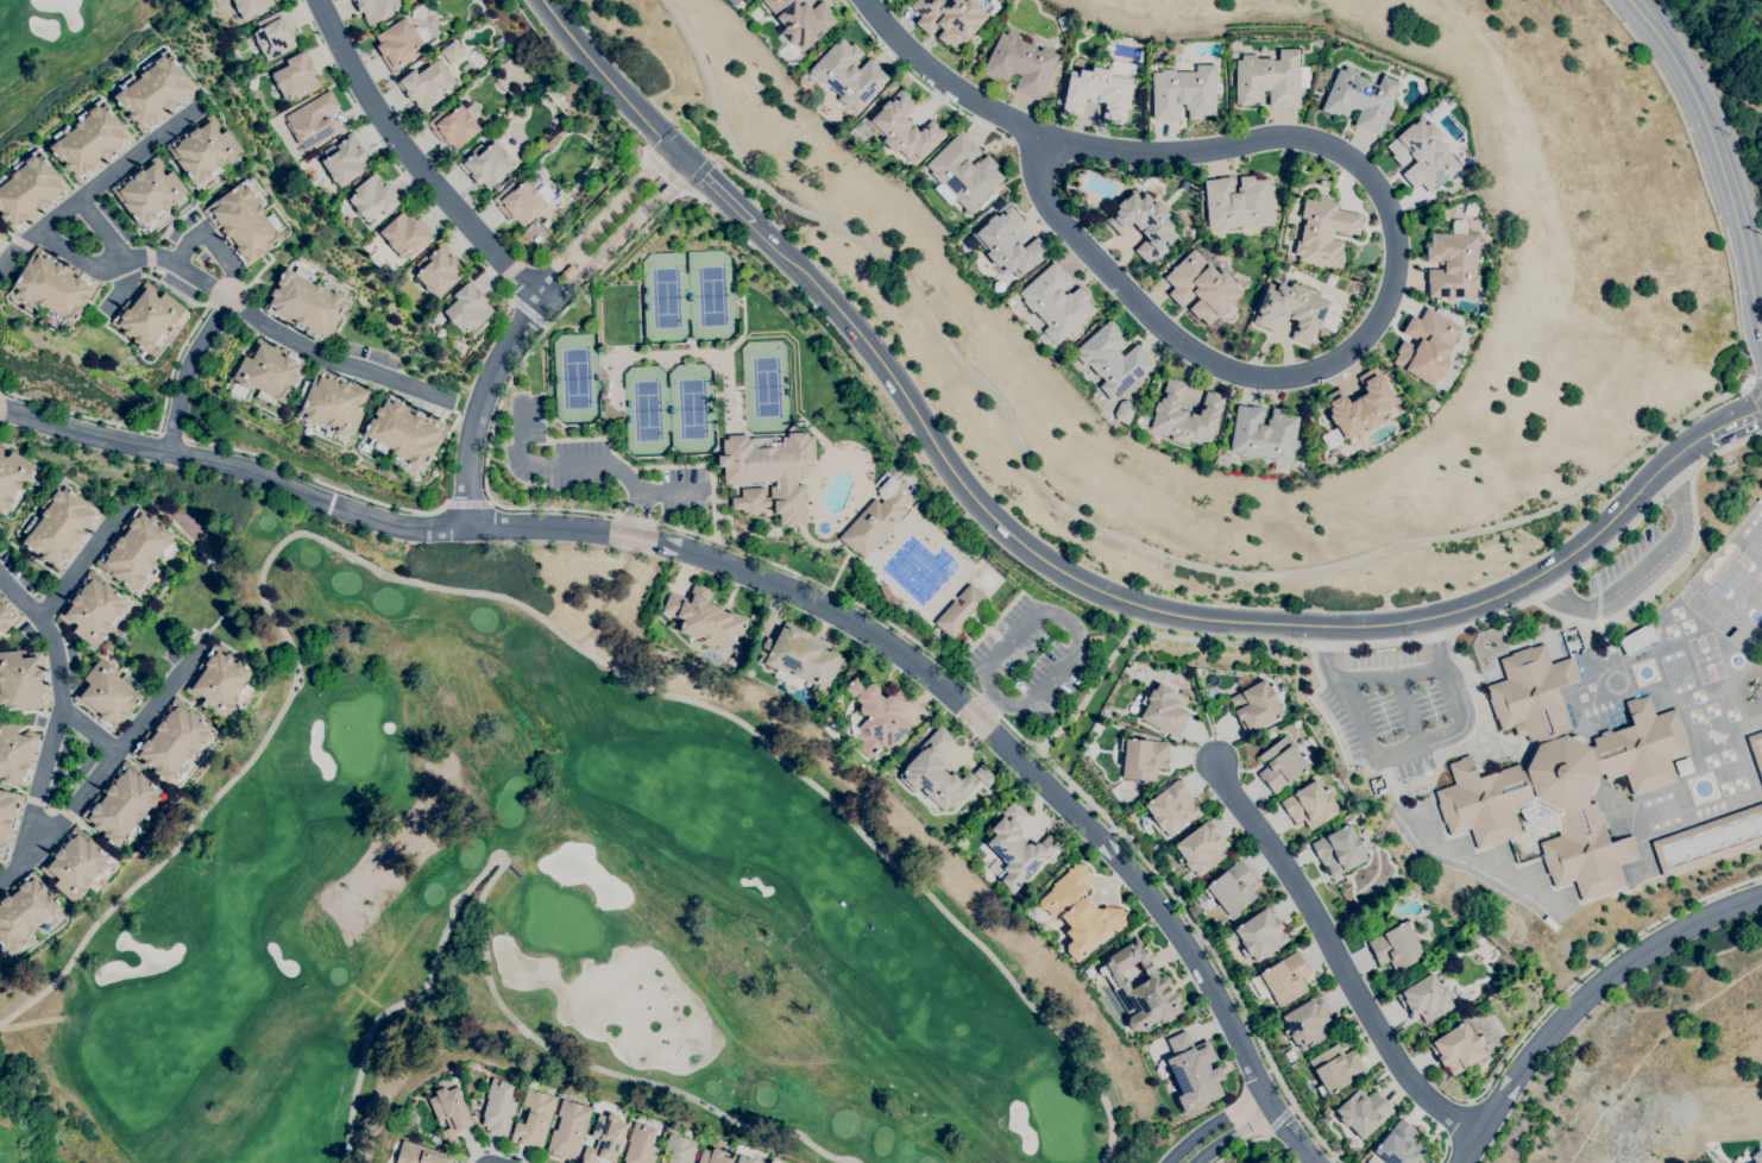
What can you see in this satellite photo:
building: (734, 1)
building: (250, 6)
building: (376, 8)
building: (949, 19)
building: (801, 21)
building: (1063, 23)
building: (275, 34)
building: (398, 44)
park: (68, 49)
building: (452, 52)
building: (476, 59)
building: (1175, 62)
building: (1021, 64)
building: (849, 74)
building: (296, 77)
building: (1270, 78)
road: (942, 80)
road: (917, 81)
road: (612, 84)
building: (427, 86)
building: (1101, 89)
building: (155, 92)
building: (1184, 93)
building: (1361, 99)
road: (1720, 112)
building: (313, 120)
building: (453, 126)
building: (899, 128)
road: (1025, 137)
building: (90, 140)
building: (203, 150)
building: (1423, 155)
road: (389, 157)
road: (1718, 157)
building: (345, 159)
road: (411, 159)
building: (485, 164)
road: (681, 171)
building: (963, 172)
road: (669, 176)
road: (99, 182)
building: (1185, 184)
building: (30, 190)
building: (149, 193)
road: (720, 193)
building: (372, 199)
building: (518, 201)
building: (987, 201)
building: (1238, 202)
building: (999, 205)
road: (599, 219)
building: (244, 222)
building: (546, 224)
building: (1144, 224)
building: (1324, 232)
building: (405, 234)
building: (2, 238)
road: (20, 243)
road: (214, 243)
road: (609, 244)
building: (1009, 244)
building: (553, 253)
road: (149, 254)
road: (144, 257)
road: (86, 262)
building: (1453, 262)
building: (438, 270)
building: (568, 271)
building: (52, 287)
road: (121, 287)
building: (586, 287)
building: (1201, 287)
park: (687, 295)
building: (1057, 302)
building: (307, 304)
building: (467, 309)
road: (528, 310)
building: (1296, 310)
building: (149, 318)
building: (1427, 346)
road: (333, 359)
building: (1113, 359)
road: (187, 367)
road: (1319, 367)
building: (269, 371)
park: (574, 378)
park: (764, 385)
road: (1755, 391)
building: (334, 403)
road: (477, 403)
building: (1430, 404)
building: (1358, 408)
park: (669, 409)
building: (1125, 410)
road: (77, 413)
building: (1184, 415)
road: (1732, 419)
building: (405, 433)
road: (172, 435)
building: (1266, 435)
road: (573, 466)
building: (769, 473)
building: (12, 479)
road: (316, 479)
road: (1665, 480)
road: (640, 490)
road: (656, 490)
road: (468, 501)
road: (603, 511)
building: (877, 517)
building: (61, 526)
road: (1100, 528)
road: (642, 538)
building: (137, 551)
road: (200, 552)
road: (80, 561)
road: (1640, 572)
road: (1548, 583)
road: (1651, 585)
road: (515, 597)
building: (94, 609)
building: (959, 611)
road: (1175, 614)
building: (6, 615)
building: (705, 617)
road: (1434, 631)
road: (1324, 639)
building: (1637, 640)
road: (1401, 641)
road: (1066, 658)
building: (799, 659)
road: (1441, 659)
building: (21, 681)
building: (221, 684)
building: (108, 694)
building: (1531, 694)
road: (986, 705)
building: (1256, 706)
parking lot: (1398, 706)
building: (1164, 710)
road: (1409, 710)
building: (876, 717)
building: (827, 718)
road: (88, 729)
road: (1447, 737)
building: (174, 742)
building: (1642, 748)
building: (1756, 749)
building: (15, 752)
building: (1144, 759)
building: (1282, 765)
building: (936, 773)
building: (984, 775)
building: (1559, 779)
road: (33, 798)
building: (1484, 801)
road: (51, 804)
building: (122, 804)
building: (1309, 805)
building: (1171, 807)
road: (68, 813)
building: (7, 819)
road: (1408, 821)
building: (1708, 840)
building: (1158, 847)
road: (24, 848)
building: (1018, 848)
building: (1200, 848)
building: (1339, 850)
building: (1586, 851)
building: (76, 865)
road: (12, 870)
building: (1233, 888)
park: (526, 910)
building: (25, 912)
building: (1081, 912)
building: (1033, 913)
building: (1260, 933)
road: (1206, 945)
building: (1397, 947)
road: (485, 949)
road: (1334, 955)
road: (1594, 964)
building: (1088, 972)
building: (1285, 979)
road: (1597, 985)
building: (1140, 987)
building: (1426, 998)
building: (1307, 1023)
road: (1239, 1043)
building: (1458, 1048)
building: (1290, 1056)
building: (1335, 1069)
building: (1193, 1071)
building: (472, 1101)
building: (498, 1108)
building: (449, 1111)
building: (1363, 1112)
building: (535, 1119)
road: (1282, 1121)
road: (1461, 1121)
road: (1212, 1123)
building: (569, 1130)
road: (1235, 1134)
building: (435, 1139)
building: (605, 1139)
building: (641, 1144)
building: (1401, 1144)
road: (1240, 1146)
road: (1466, 1146)
building: (680, 1149)
road: (504, 1150)
road: (1445, 1150)
building: (421, 1155)
building: (713, 1156)
building: (1757, 1156)
building: (745, 1159)

